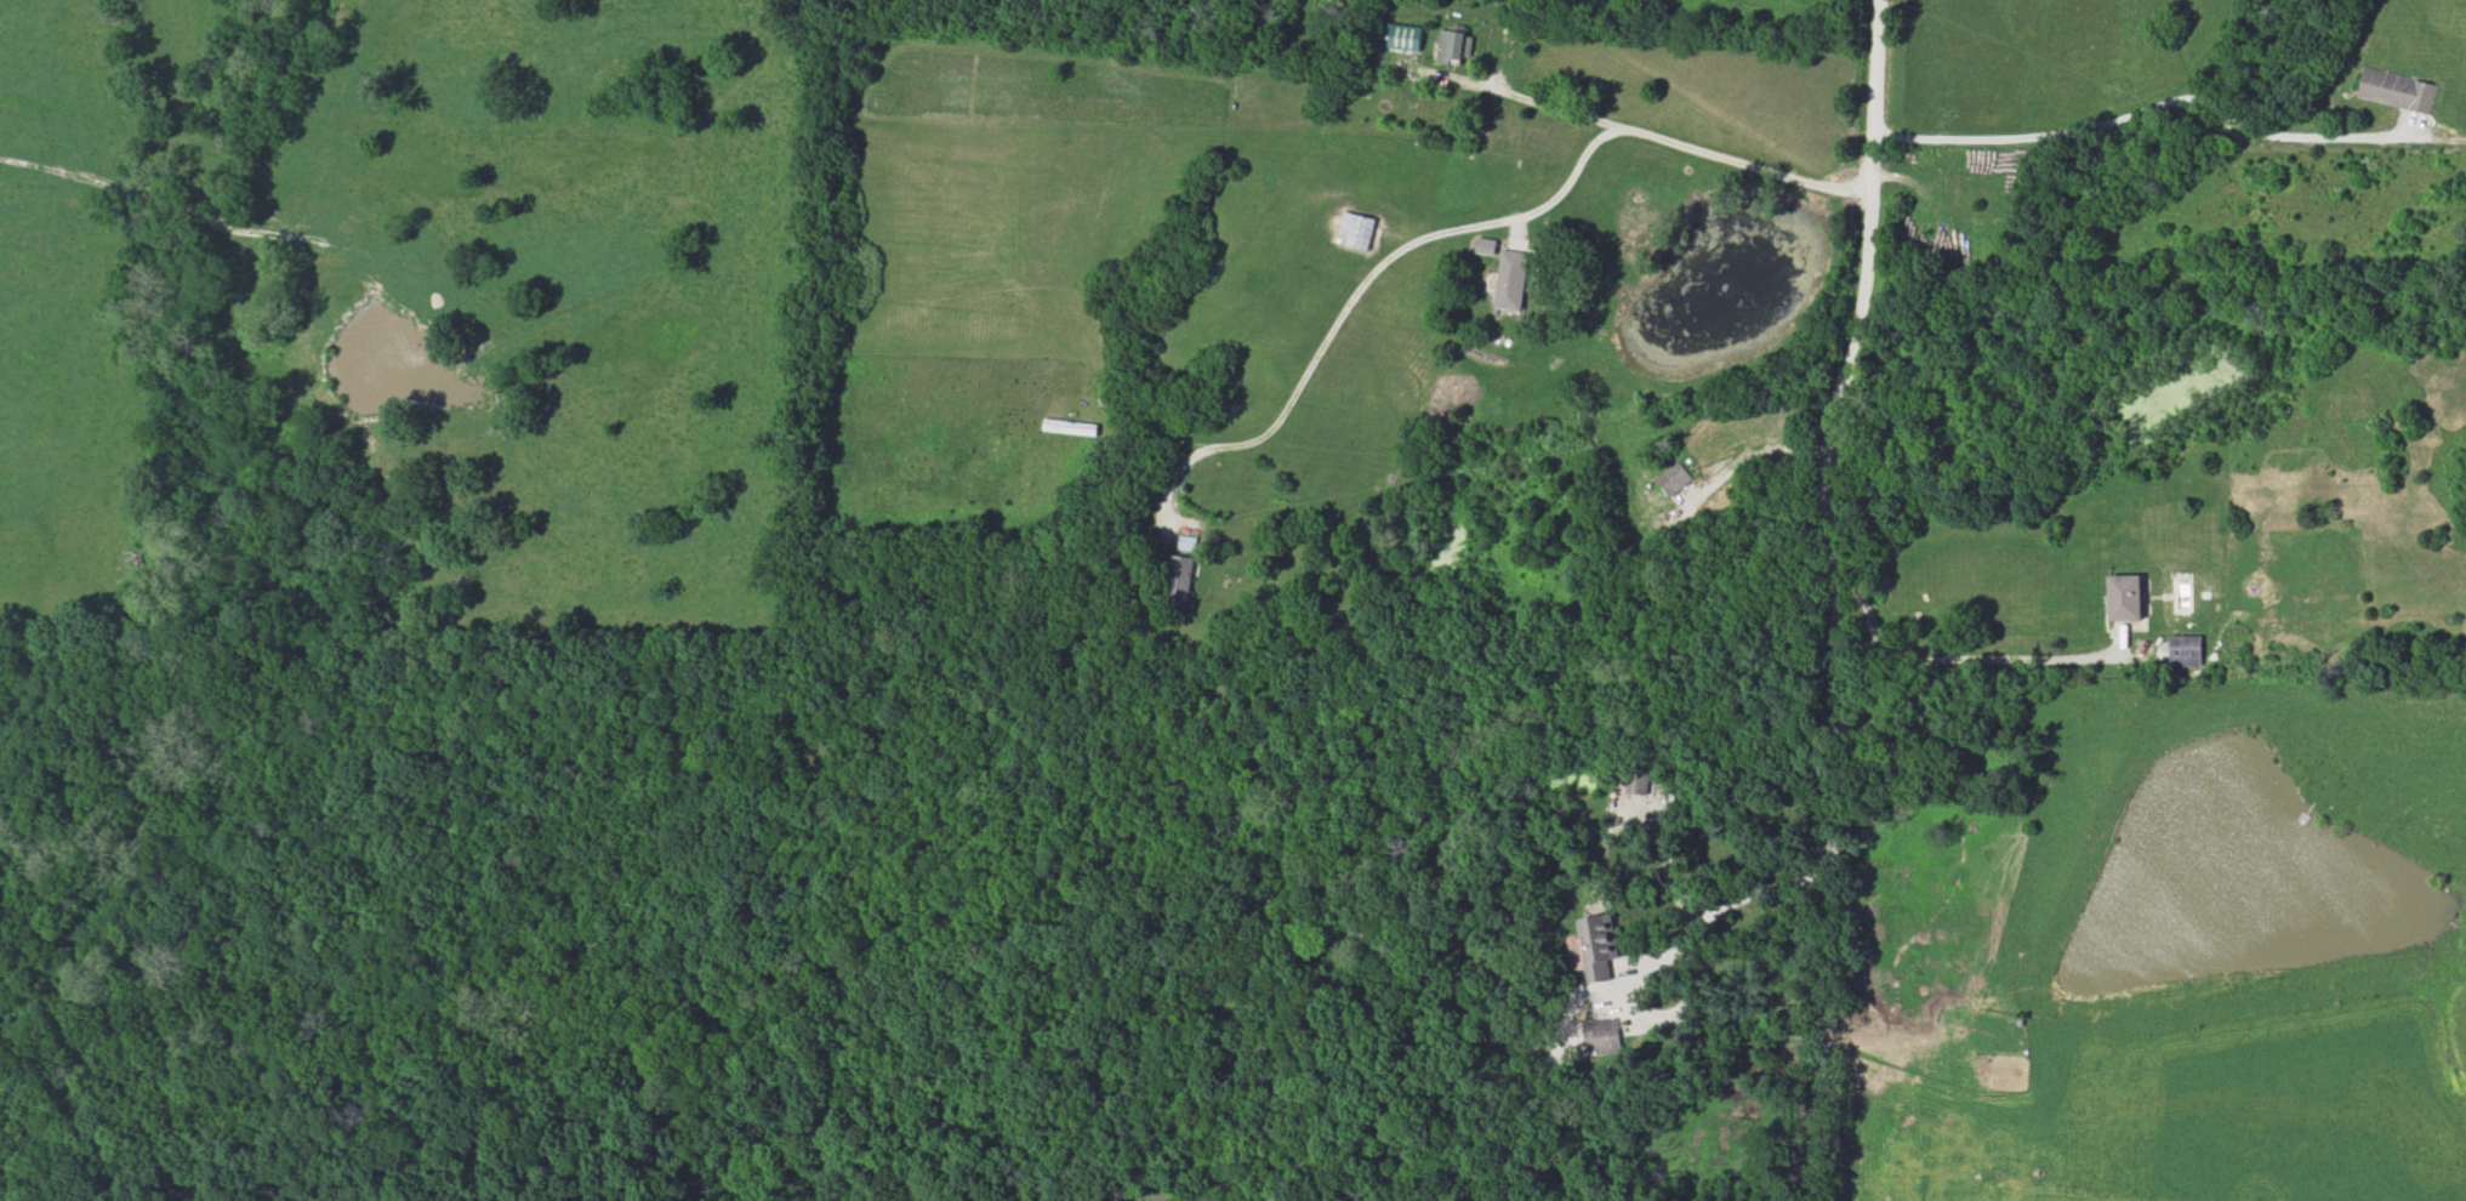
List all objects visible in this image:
building: (1407, 39)
building: (1456, 47)
building: (2396, 91)
road: (2146, 109)
road: (1669, 138)
building: (1357, 230)
building: (1486, 246)
building: (1514, 280)
road: (1360, 284)
building: (1071, 427)
road: (1830, 438)
road: (1759, 451)
building: (1676, 478)
building: (1186, 543)
building: (1103, 563)
building: (1180, 571)
building: (2128, 597)
building: (2185, 650)
road: (1950, 659)
building: (1638, 781)
road: (1732, 901)
building: (1599, 946)
building: (1604, 1035)
park: (385, 1190)

